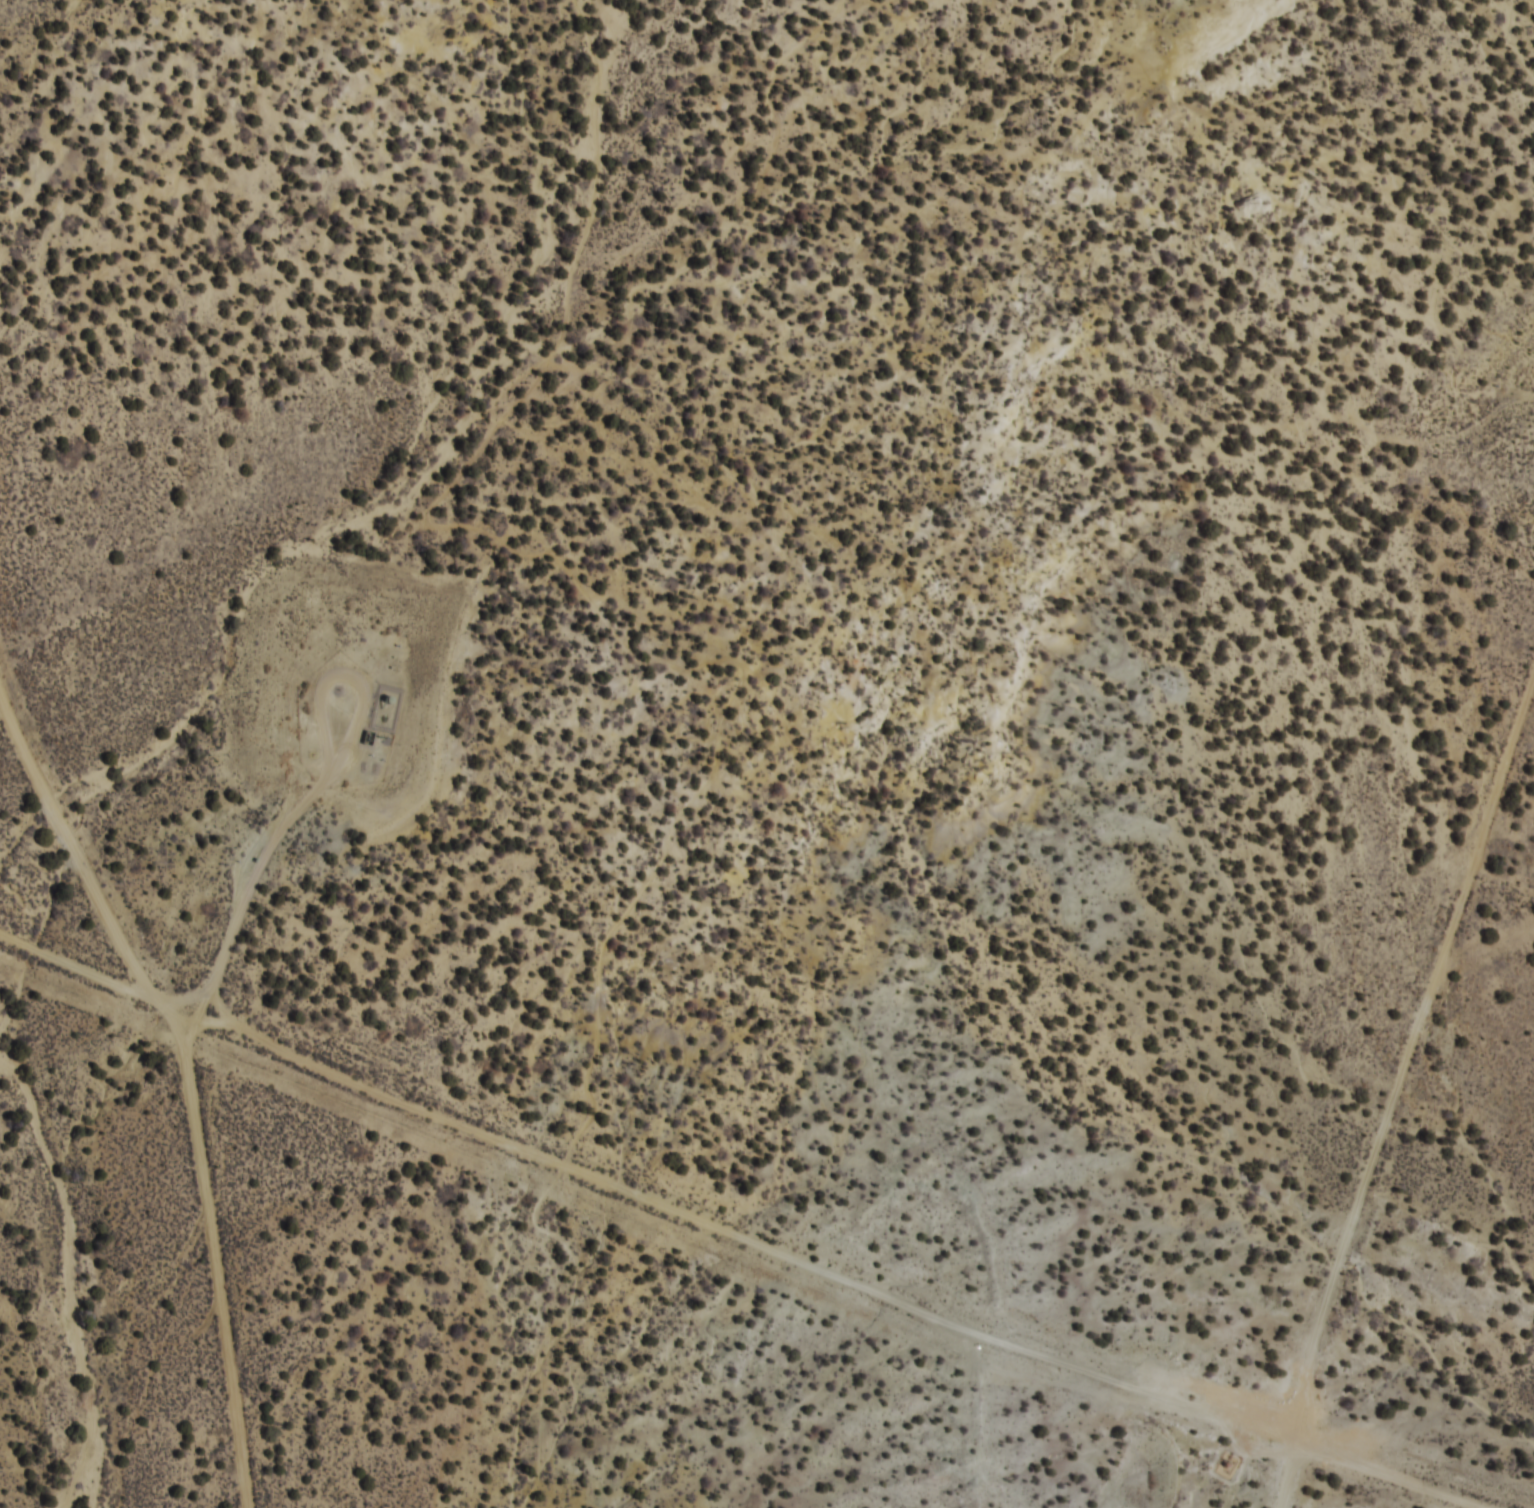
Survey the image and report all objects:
road: (1513, 703)
road: (1532, 795)
road: (1471, 926)
road: (1499, 942)
road: (77, 969)
road: (164, 1057)
road: (816, 1269)
river: (61, 1283)

